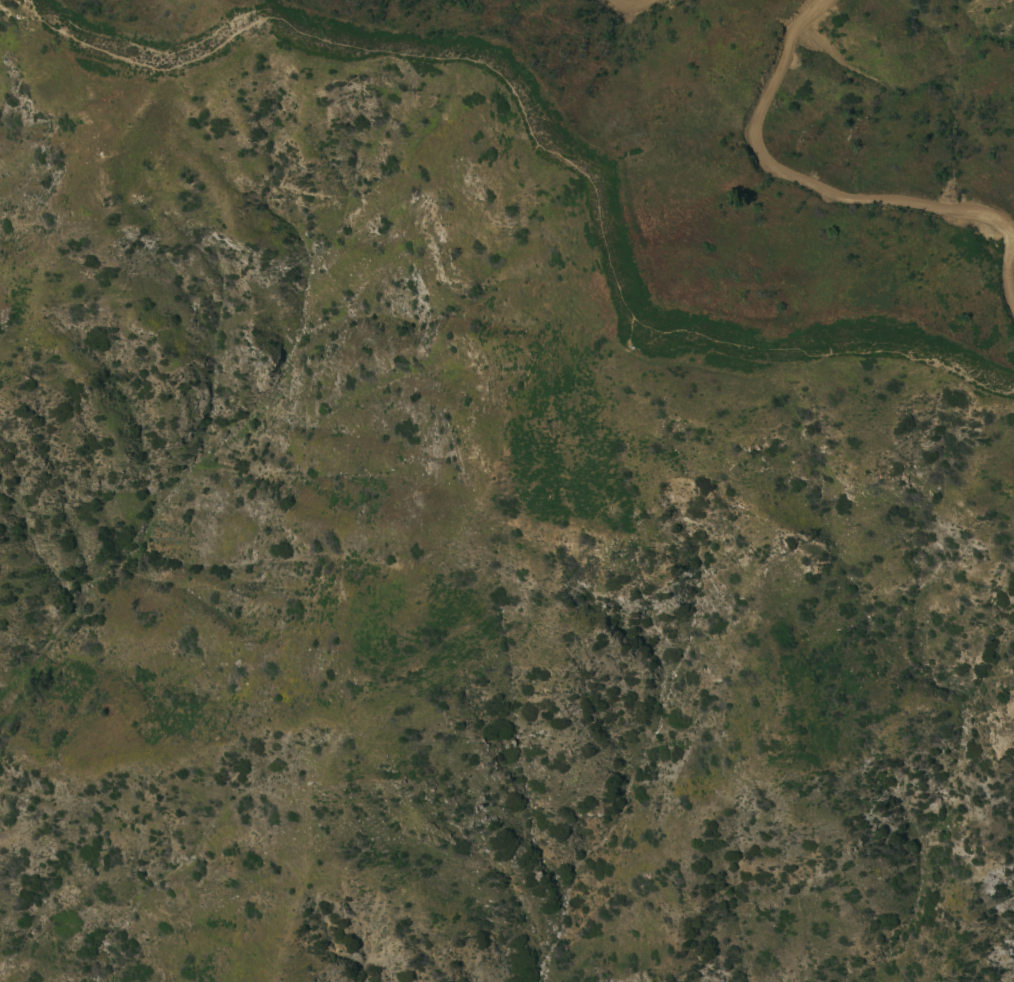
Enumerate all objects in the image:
road: (626, 1)
road: (819, 6)
road: (834, 195)

